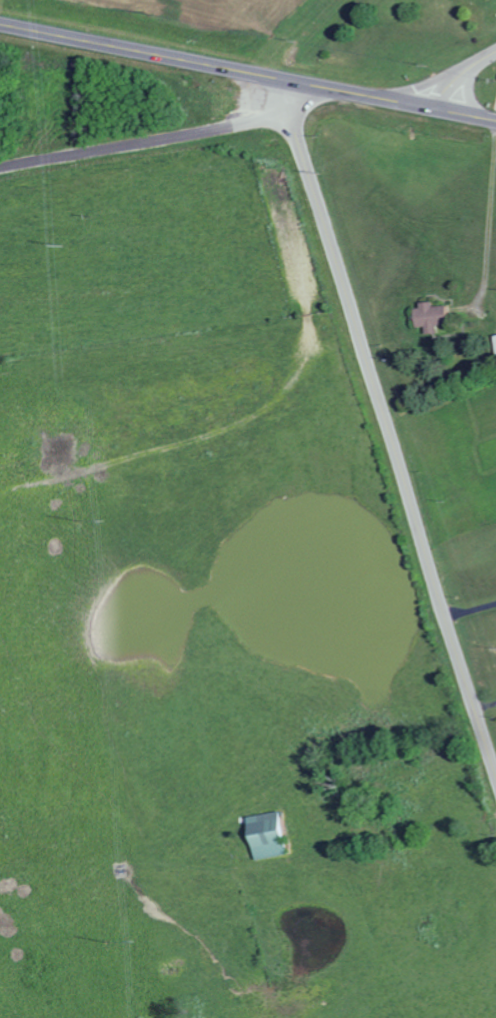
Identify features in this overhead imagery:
road: (75, 18)
road: (141, 52)
road: (460, 75)
road: (359, 94)
road: (466, 114)
road: (145, 144)
road: (489, 220)
building: (436, 317)
road: (387, 425)
road: (471, 608)
road: (486, 708)

